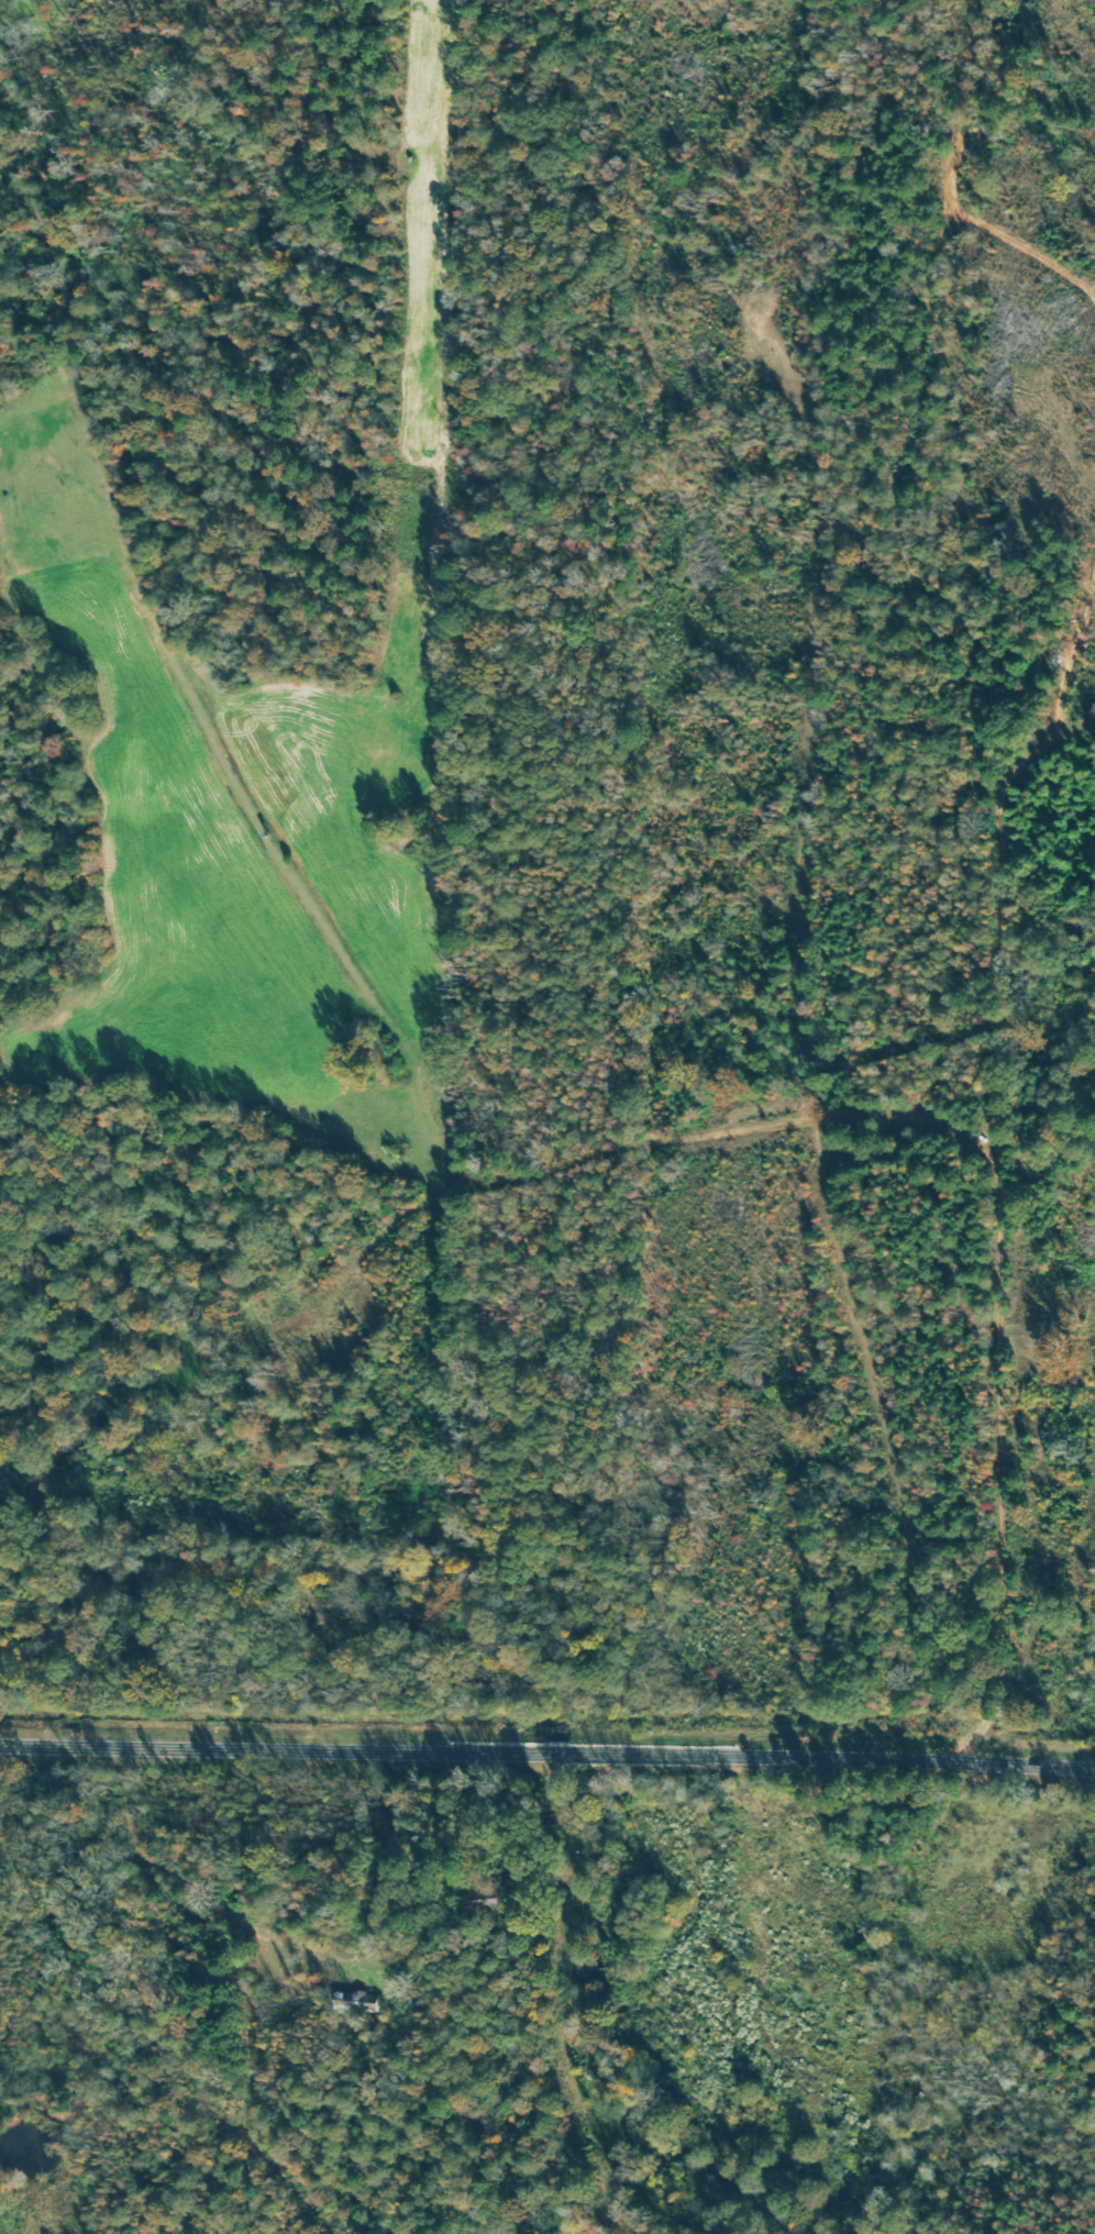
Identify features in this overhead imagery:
road: (1060, 678)
road: (1022, 967)
road: (1069, 1171)
road: (715, 1183)
road: (547, 1754)
road: (562, 1994)

